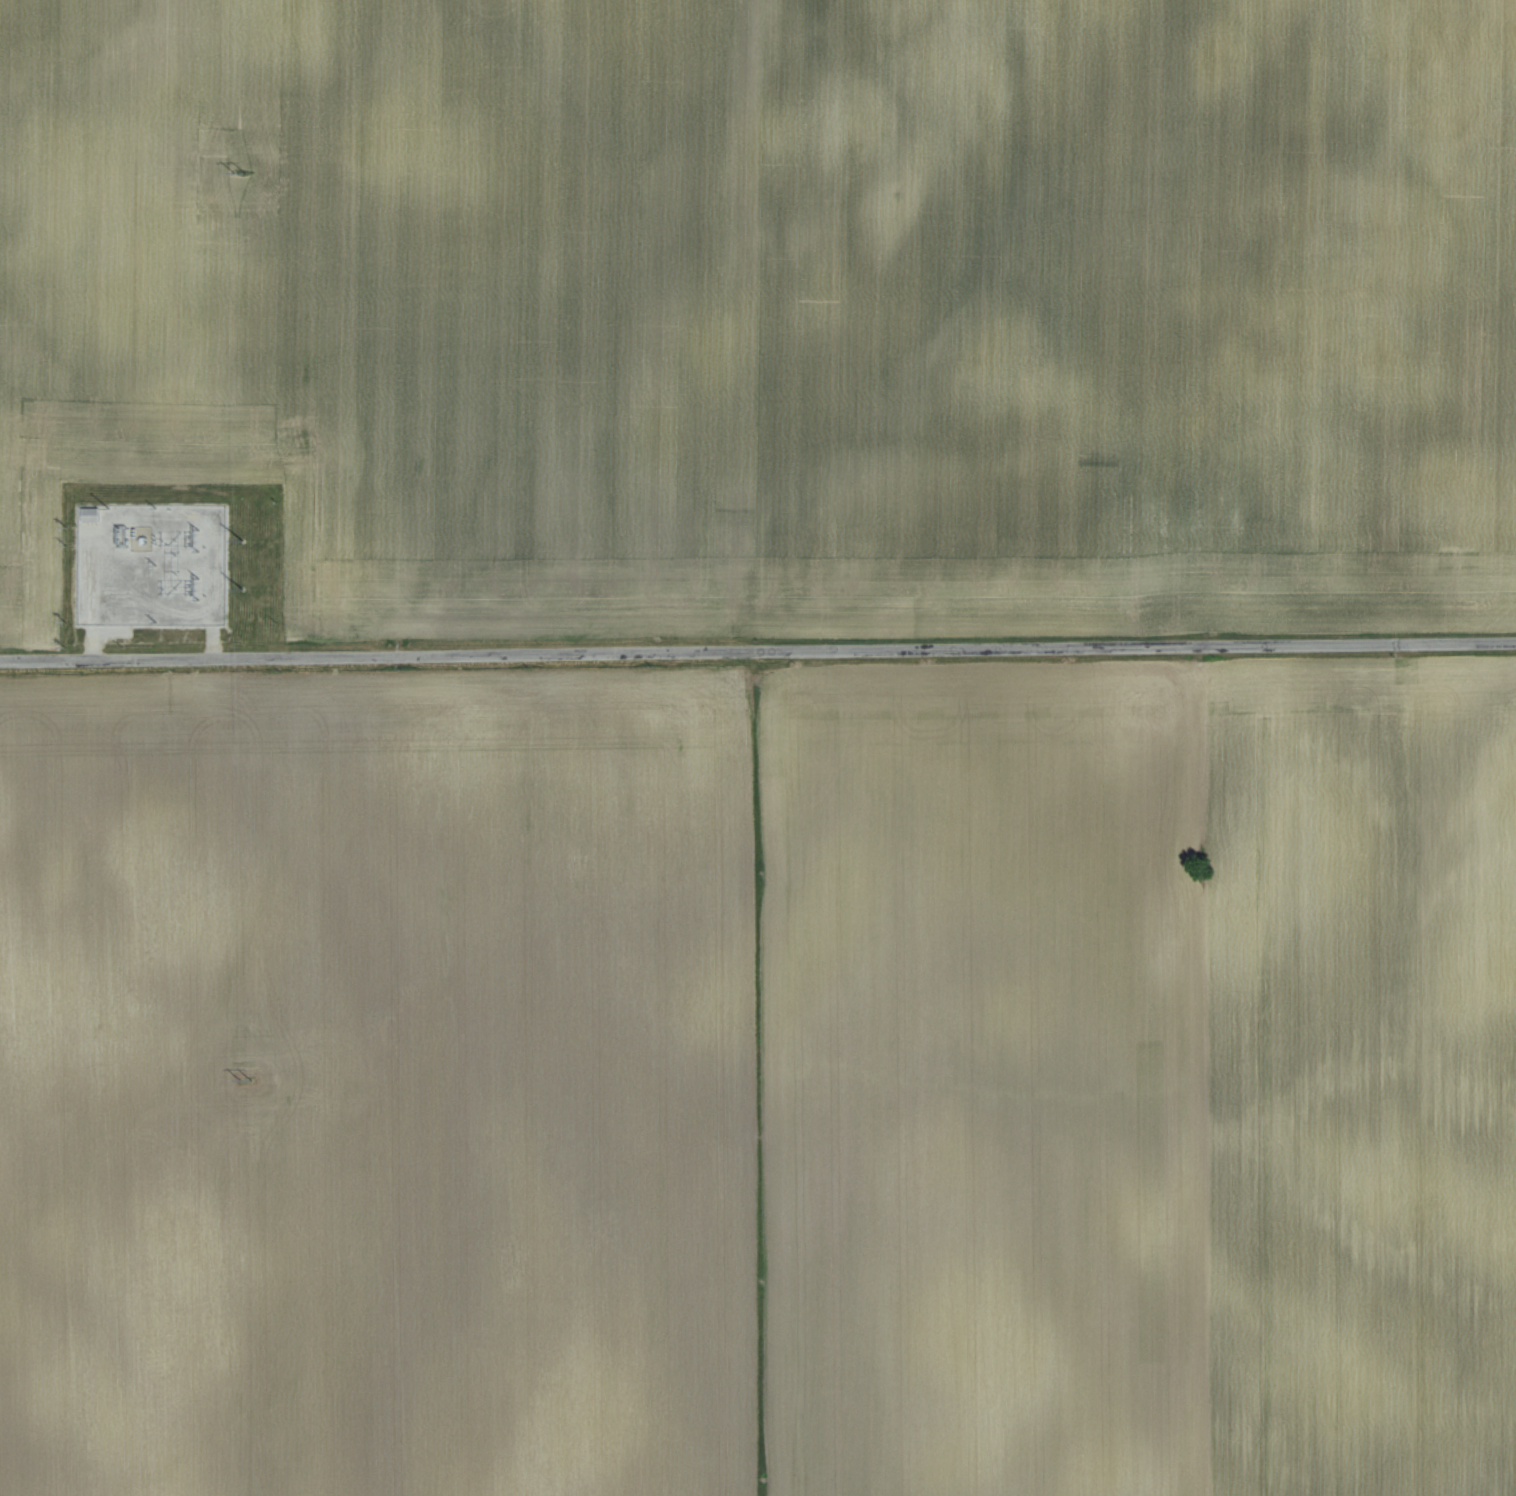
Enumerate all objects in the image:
power substation: (152, 564)
road: (215, 640)
road: (95, 641)
road: (758, 650)

